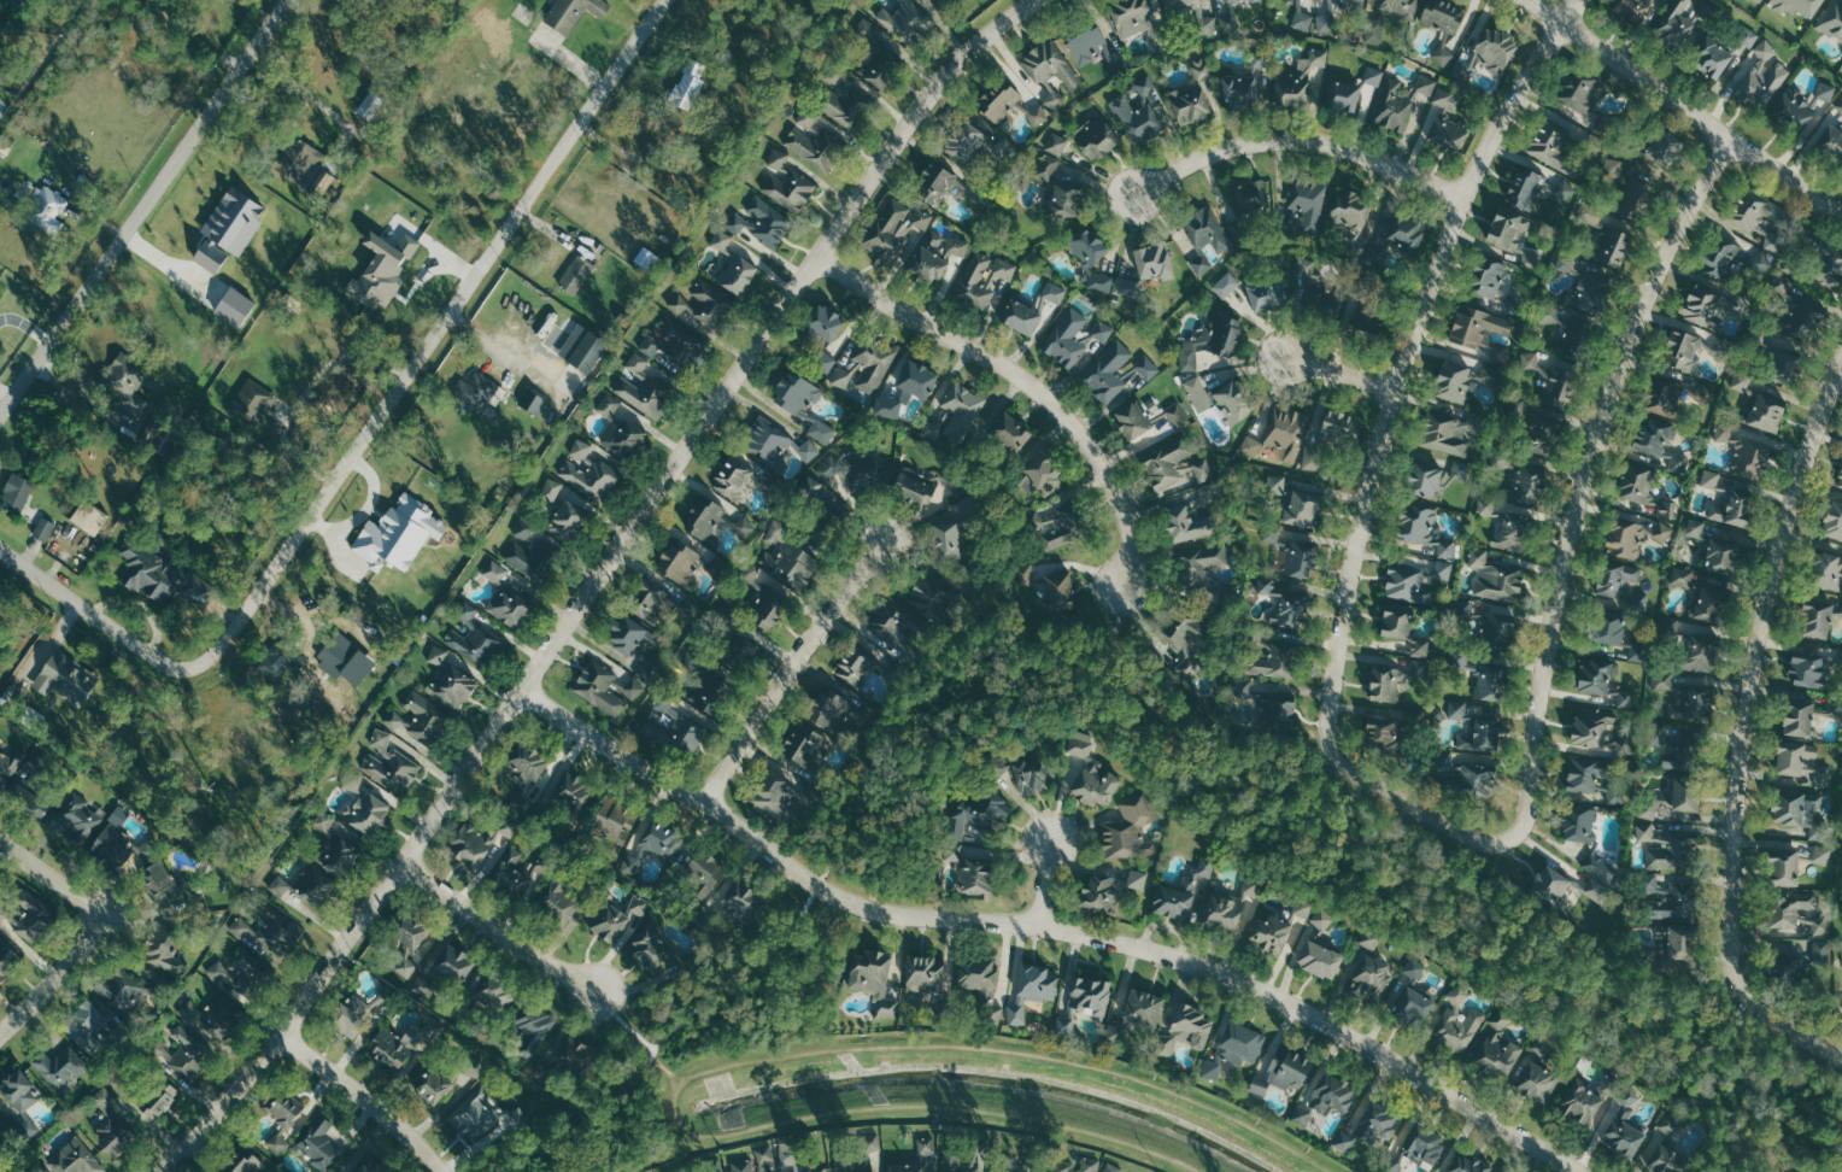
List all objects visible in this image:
building: (987, 0)
building: (1243, 0)
building: (1758, 1)
building: (1179, 2)
building: (1799, 6)
building: (1401, 8)
building: (1631, 8)
road: (1572, 11)
building: (571, 12)
building: (1442, 16)
building: (1138, 19)
building: (1832, 19)
building: (908, 20)
building: (1303, 20)
building: (1679, 24)
building: (1208, 25)
building: (1374, 30)
building: (1748, 36)
building: (1086, 43)
building: (1496, 49)
building: (878, 54)
building: (1443, 54)
building: (1116, 58)
building: (1712, 58)
building: (1473, 61)
building: (1051, 64)
building: (1203, 69)
building: (1374, 75)
building: (1764, 76)
building: (1301, 80)
building: (688, 83)
road: (299, 87)
building: (1240, 92)
building: (1826, 92)
building: (1580, 94)
building: (1342, 96)
building: (999, 100)
building: (1191, 102)
building: (839, 107)
building: (1838, 107)
road: (1684, 109)
building: (1794, 110)
building: (1139, 119)
building: (1445, 121)
building: (1097, 136)
building: (813, 140)
building: (966, 141)
building: (1057, 142)
road: (1297, 143)
building: (1830, 143)
building: (1554, 145)
building: (1664, 148)
building: (778, 158)
building: (298, 160)
building: (1049, 166)
building: (1615, 168)
building: (935, 183)
building: (790, 188)
building: (1538, 191)
building: (1064, 197)
building: (1249, 197)
building: (1633, 198)
building: (1308, 201)
building: (43, 205)
road: (141, 207)
building: (1350, 207)
building: (769, 221)
building: (737, 222)
building: (897, 225)
building: (228, 227)
building: (1205, 227)
building: (1513, 234)
building: (722, 240)
building: (950, 246)
building: (1086, 246)
building: (1613, 247)
building: (1720, 257)
building: (1152, 259)
building: (1761, 260)
building: (1566, 263)
building: (1202, 264)
building: (928, 265)
building: (1829, 266)
building: (382, 269)
building: (737, 273)
building: (576, 274)
building: (1486, 275)
building: (985, 279)
building: (1102, 281)
building: (0, 283)
building: (1226, 283)
building: (1128, 288)
building: (1590, 291)
building: (1268, 292)
building: (1050, 294)
building: (1799, 298)
building: (1328, 301)
building: (702, 304)
building: (234, 305)
building: (1708, 305)
building: (1020, 316)
building: (1361, 322)
building: (1477, 324)
building: (1574, 329)
building: (1102, 332)
building: (823, 334)
building: (1227, 334)
building: (679, 339)
building: (1068, 339)
building: (650, 344)
road: (429, 345)
building: (582, 347)
building: (1682, 348)
building: (1189, 358)
building: (1530, 359)
building: (638, 363)
building: (875, 363)
building: (1781, 367)
building: (1119, 370)
road: (1341, 371)
building: (847, 374)
building: (915, 379)
road: (1023, 380)
building: (1453, 380)
building: (1742, 380)
building: (128, 383)
building: (1556, 388)
building: (797, 391)
building: (481, 392)
building: (645, 393)
building: (1671, 394)
building: (254, 400)
building: (1232, 400)
building: (534, 402)
building: (609, 404)
building: (886, 406)
building: (1517, 406)
building: (961, 408)
building: (1767, 411)
building: (1180, 416)
building: (1131, 420)
road: (1385, 421)
building: (822, 430)
building: (1011, 432)
building: (1330, 433)
building: (1448, 433)
building: (1542, 434)
building: (1280, 435)
building: (1653, 435)
building: (624, 436)
building: (768, 441)
building: (581, 449)
building: (809, 450)
building: (1743, 452)
building: (1678, 462)
building: (872, 468)
building: (1175, 468)
building: (1461, 469)
building: (591, 475)
building: (1043, 475)
building: (732, 476)
building: (1711, 477)
building: (1422, 479)
building: (1841, 479)
building: (1527, 482)
building: (1277, 484)
building: (914, 486)
building: (552, 488)
building: (1642, 488)
building: (17, 491)
building: (1730, 504)
building: (1488, 505)
building: (1302, 508)
building: (89, 516)
building: (567, 518)
building: (709, 518)
building: (1834, 518)
building: (1416, 522)
building: (745, 525)
building: (1186, 525)
building: (524, 527)
building: (1696, 527)
building: (45, 528)
building: (1054, 528)
road: (1574, 531)
building: (775, 532)
building: (1272, 532)
building: (1509, 533)
building: (395, 534)
building: (1633, 534)
building: (949, 537)
building: (1445, 546)
building: (1721, 555)
building: (533, 556)
building: (1300, 558)
building: (680, 562)
building: (792, 563)
building: (1444, 569)
building: (495, 570)
building: (1826, 570)
building: (152, 572)
building: (750, 572)
building: (1027, 573)
building: (1683, 575)
building: (1496, 578)
building: (1615, 578)
building: (1404, 581)
road: (594, 585)
building: (199, 588)
building: (1058, 591)
building: (931, 592)
building: (645, 597)
building: (1641, 602)
building: (1709, 602)
building: (509, 604)
building: (1284, 604)
building: (770, 608)
road: (87, 609)
building: (1815, 619)
building: (896, 622)
building: (1488, 626)
building: (1608, 626)
road: (1115, 627)
building: (626, 633)
building: (474, 637)
building: (1191, 641)
building: (740, 650)
building: (1638, 651)
building: (1699, 651)
building: (438, 655)
building: (1841, 656)
building: (345, 658)
building: (1272, 661)
building: (280, 663)
building: (856, 666)
building: (1807, 667)
road: (793, 672)
building: (1482, 673)
building: (66, 676)
building: (1602, 679)
building: (1662, 680)
building: (1395, 681)
building: (452, 685)
building: (612, 685)
road: (1139, 685)
building: (1265, 703)
building: (1693, 703)
building: (710, 707)
building: (831, 710)
building: (424, 716)
building: (1797, 717)
building: (395, 720)
building: (679, 725)
road: (1746, 727)
building: (1596, 729)
building: (1385, 733)
building: (1482, 734)
building: (1660, 734)
building: (382, 740)
building: (1081, 743)
building: (804, 745)
building: (1682, 754)
building: (1794, 755)
building: (1808, 764)
building: (10, 766)
building: (527, 766)
building: (393, 769)
building: (1022, 770)
building: (1586, 772)
building: (1824, 775)
building: (1474, 779)
building: (353, 780)
building: (1096, 783)
building: (574, 796)
building: (773, 796)
building: (29, 799)
building: (1672, 799)
building: (368, 811)
building: (979, 813)
building: (80, 818)
building: (324, 820)
building: (615, 822)
road: (1398, 830)
building: (1130, 831)
building: (1646, 831)
building: (1586, 837)
building: (480, 840)
building: (662, 840)
building: (113, 845)
building: (1673, 852)
building: (1822, 855)
building: (338, 856)
building: (633, 861)
building: (1783, 867)
building: (514, 871)
building: (970, 872)
road: (53, 877)
building: (700, 878)
building: (1138, 879)
building: (160, 881)
road: (1044, 881)
building: (1550, 884)
building: (305, 885)
building: (1595, 889)
building: (1184, 891)
building: (1101, 892)
building: (741, 898)
building: (1672, 899)
building: (559, 902)
building: (1797, 912)
building: (2, 913)
building: (31, 914)
building: (616, 914)
building: (1324, 918)
road: (1048, 925)
road: (500, 926)
building: (409, 933)
building: (1271, 933)
building: (1371, 939)
building: (1676, 945)
building: (650, 947)
building: (1822, 951)
building: (164, 953)
building: (7, 959)
building: (1319, 959)
building: (454, 962)
building: (405, 966)
building: (1787, 967)
building: (925, 973)
road: (54, 978)
building: (873, 978)
building: (1373, 978)
building: (231, 980)
building: (1037, 981)
building: (981, 984)
building: (424, 986)
building: (124, 989)
building: (495, 992)
building: (1085, 1002)
building: (1415, 1003)
building: (1143, 1008)
building: (1017, 1012)
building: (351, 1014)
building: (1459, 1021)
road: (623, 1022)
building: (87, 1024)
building: (536, 1027)
building: (1186, 1030)
building: (1116, 1032)
building: (1239, 1044)
building: (395, 1045)
building: (1544, 1045)
building: (1498, 1047)
road: (1008, 1051)
building: (184, 1053)
building: (573, 1054)
road: (1837, 1054)
building: (60, 1068)
building: (1212, 1070)
building: (1283, 1071)
building: (1536, 1080)
building: (435, 1086)
building: (1331, 1094)
road: (369, 1098)
building: (1584, 1100)
building: (19, 1102)
road: (903, 1107)
building: (1302, 1115)
building: (475, 1117)
building: (1, 1120)
building: (110, 1124)
building: (1369, 1125)
road: (1738, 1131)
road: (1835, 1133)
building: (321, 1144)
building: (1424, 1144)
building: (927, 1145)
building: (868, 1154)
building: (791, 1156)
building: (77, 1159)
building: (1662, 1159)
building: (757, 1160)
building: (245, 1162)
building: (962, 1162)
building: (1468, 1164)
building: (714, 1165)
building: (1074, 1165)
building: (1392, 1165)
building: (907, 1167)
building: (1113, 1167)
building: (1001, 1171)

